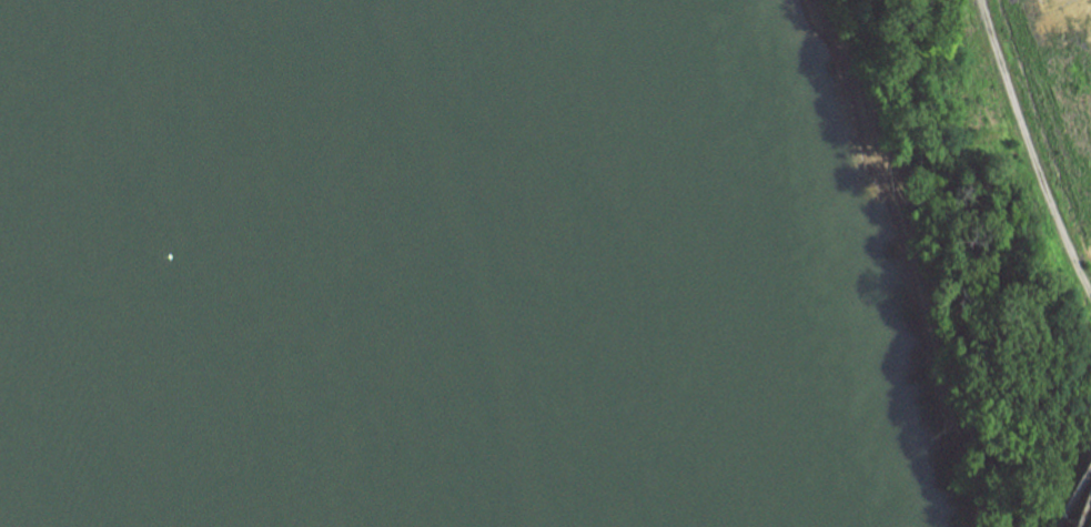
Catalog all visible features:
river: (276, 263)

